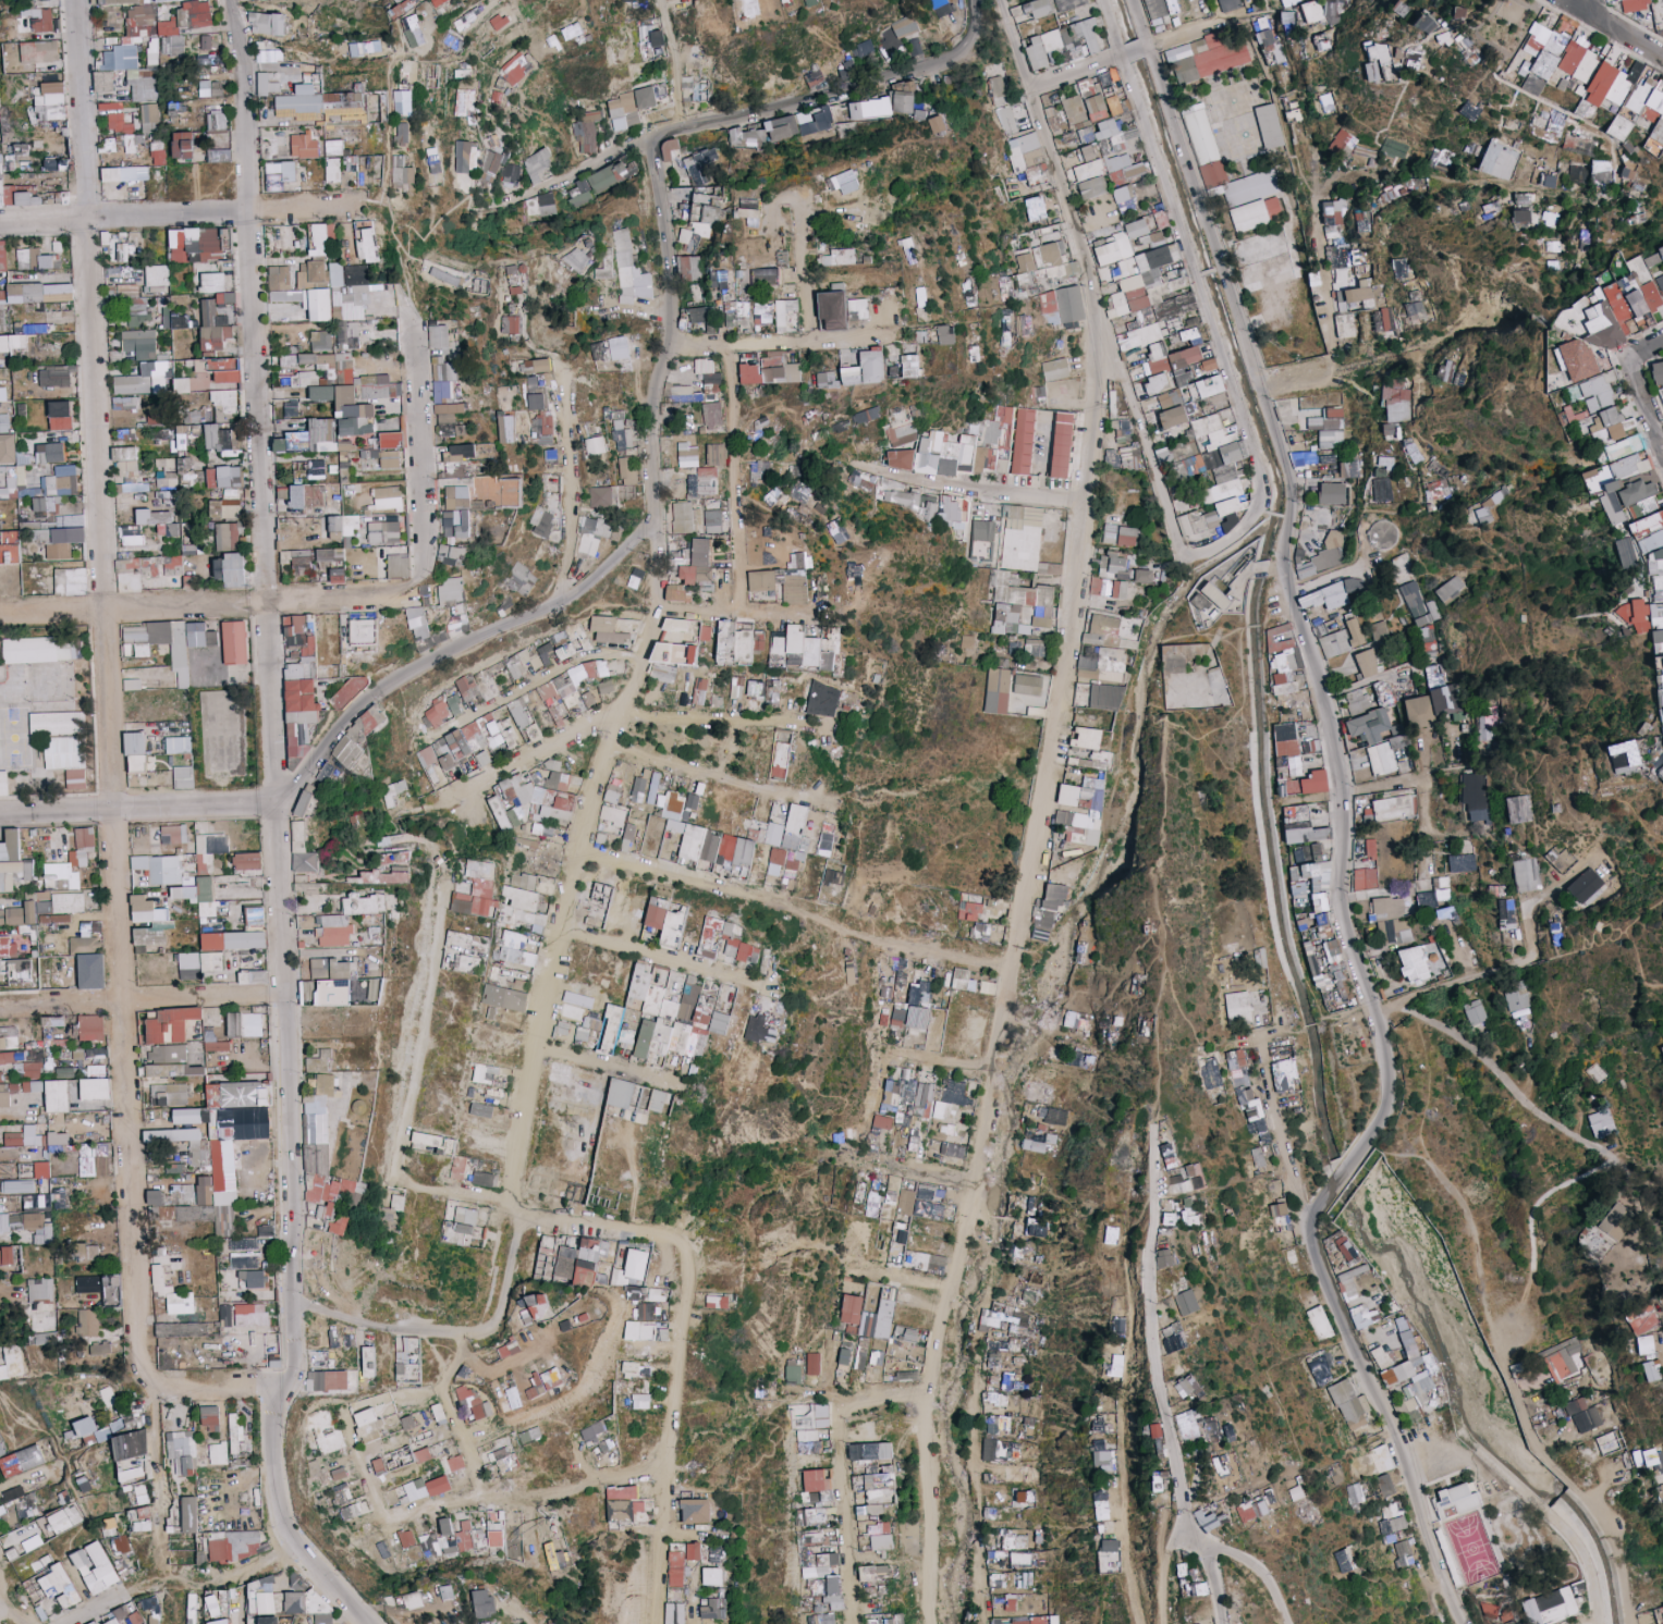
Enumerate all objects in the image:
park: (1476, 1550)
park: (1508, 1561)

